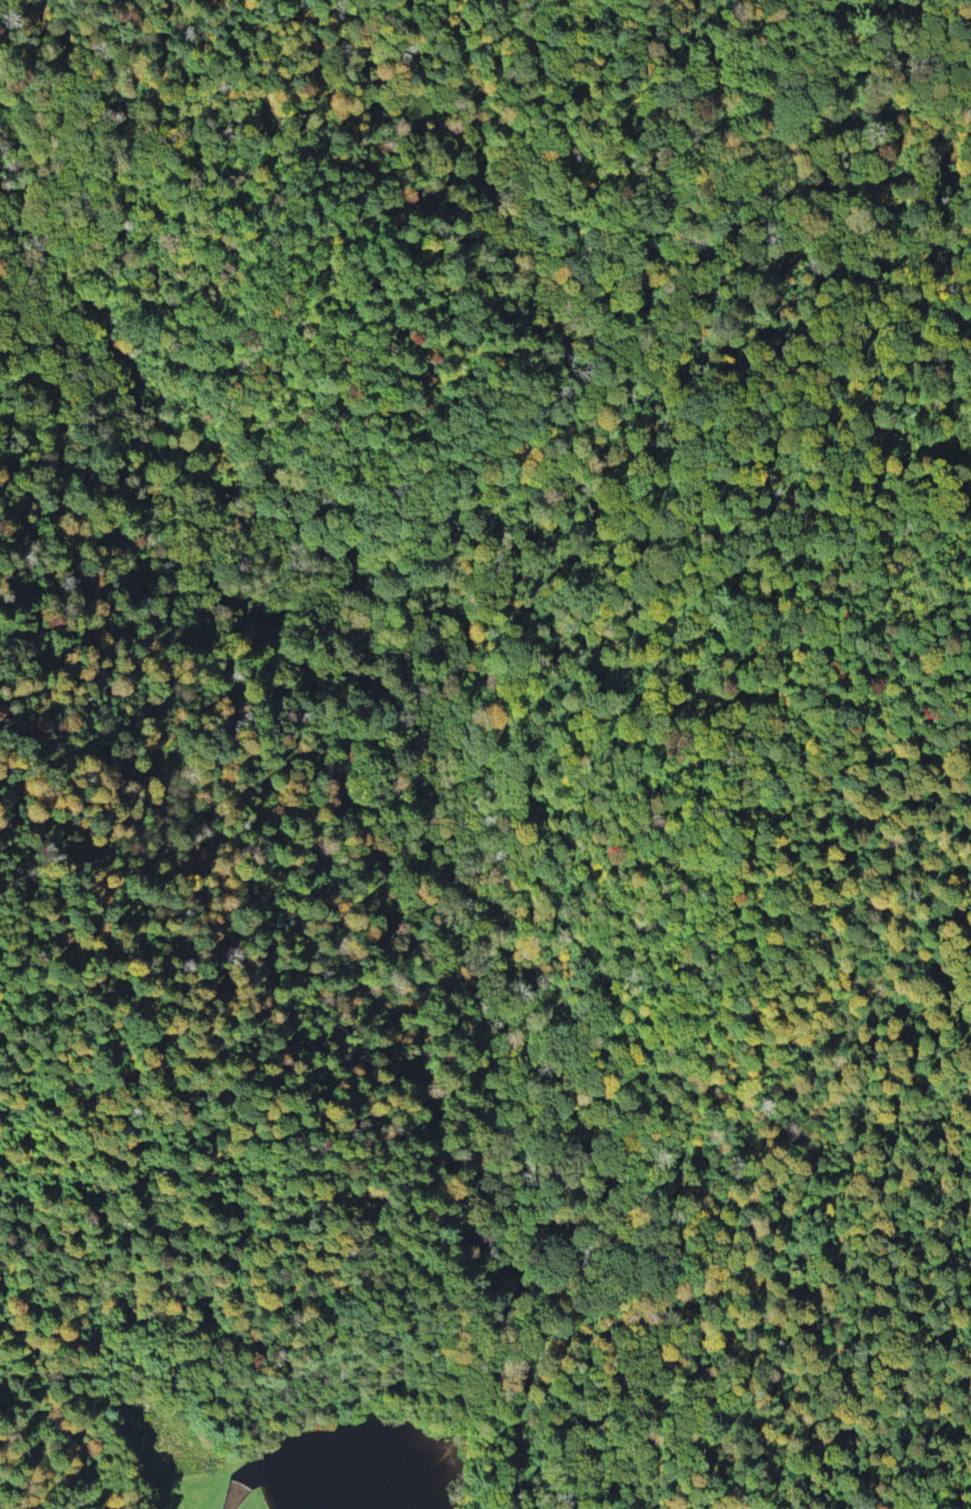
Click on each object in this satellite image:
dam: (264, 1496)

